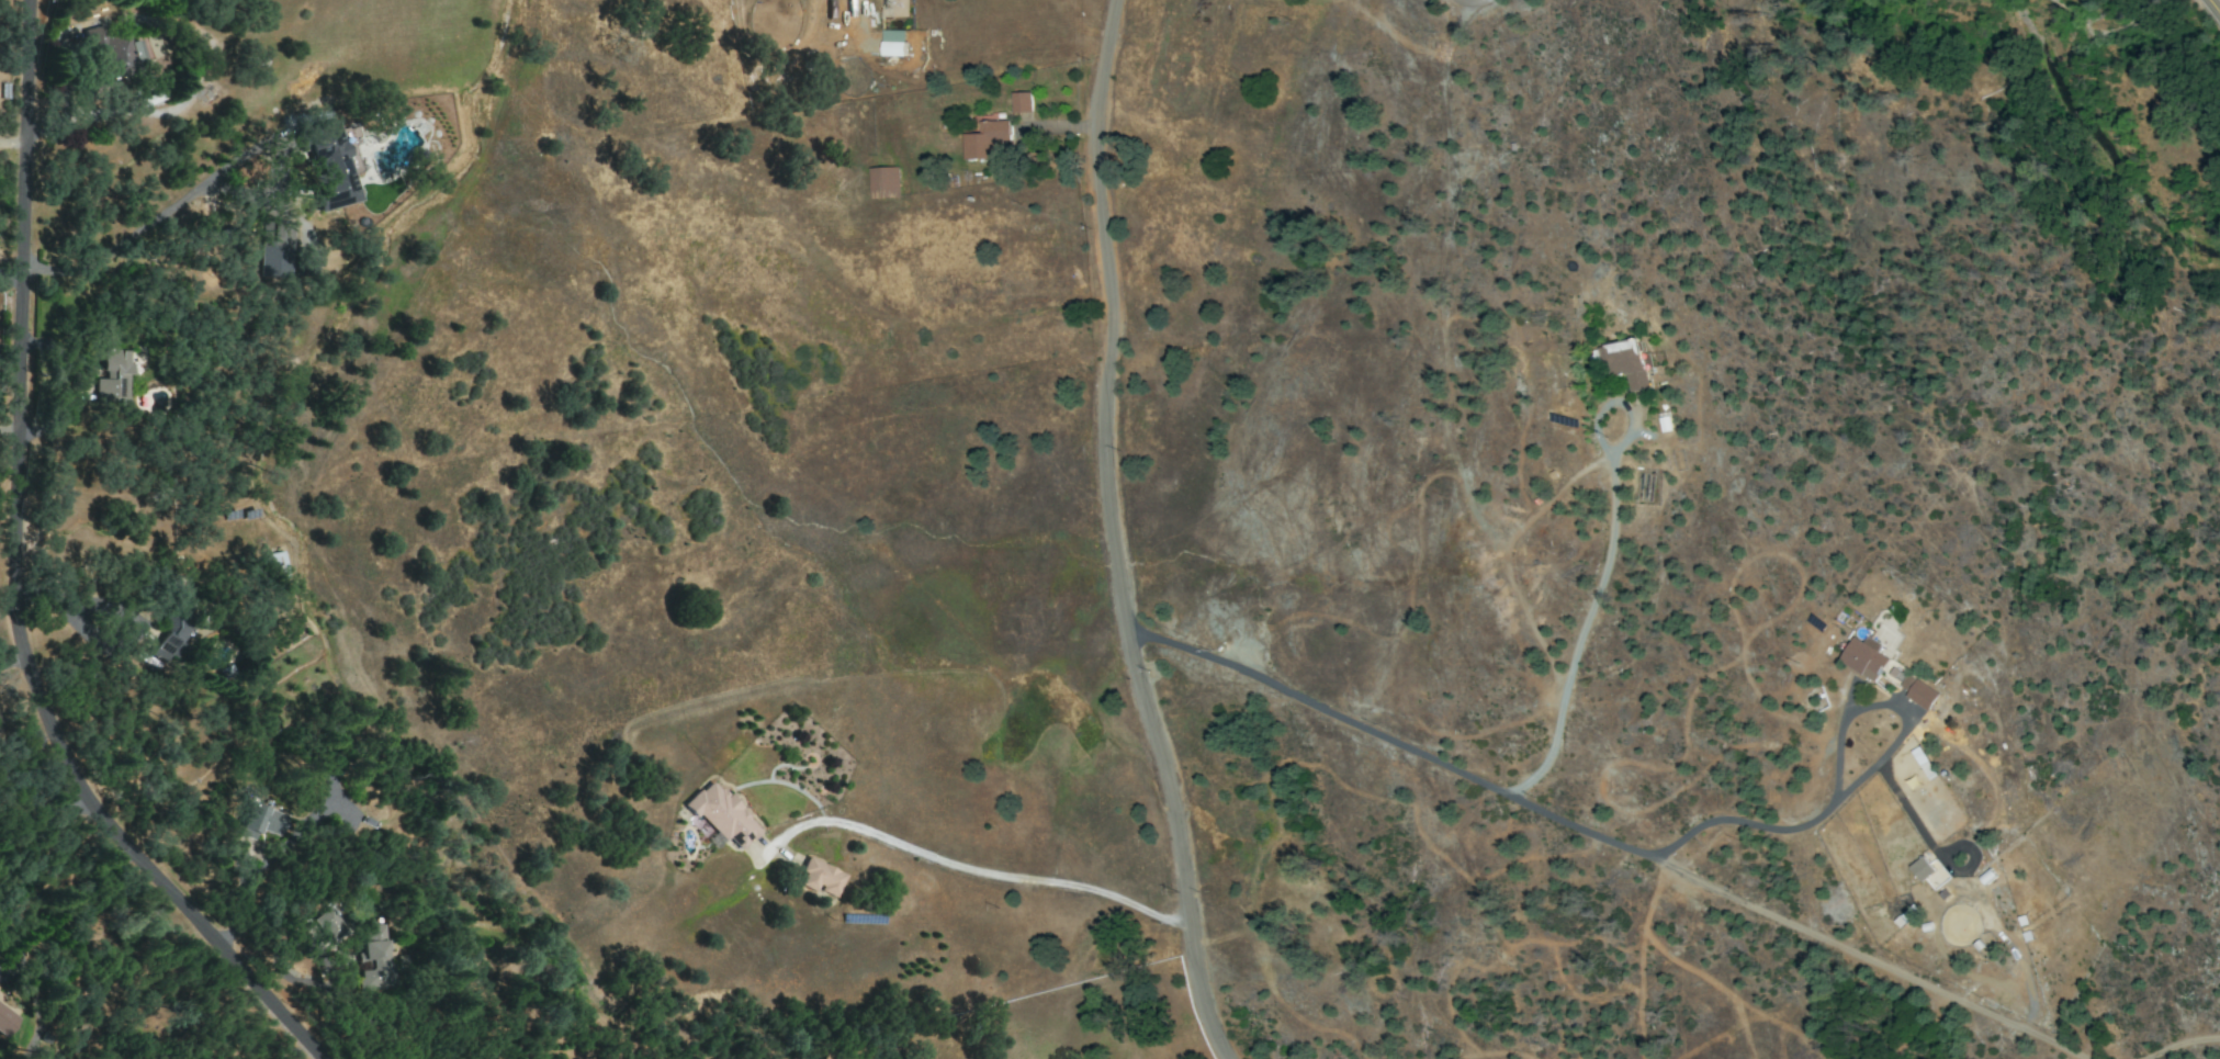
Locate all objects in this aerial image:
road: (1468, 2)
road: (2213, 8)
building: (892, 48)
building: (113, 53)
building: (1019, 102)
building: (984, 139)
road: (13, 142)
building: (328, 166)
building: (883, 182)
road: (143, 227)
building: (274, 250)
road: (10, 279)
building: (1626, 362)
building: (113, 378)
road: (8, 429)
road: (1115, 533)
building: (273, 565)
road: (11, 581)
road: (58, 607)
road: (1589, 608)
building: (171, 627)
building: (1863, 657)
road: (13, 658)
building: (1918, 691)
road: (1856, 784)
building: (721, 815)
road: (1604, 838)
road: (982, 870)
building: (1927, 871)
building: (820, 878)
building: (326, 924)
building: (375, 959)
building: (7, 1018)
road: (2182, 1044)

